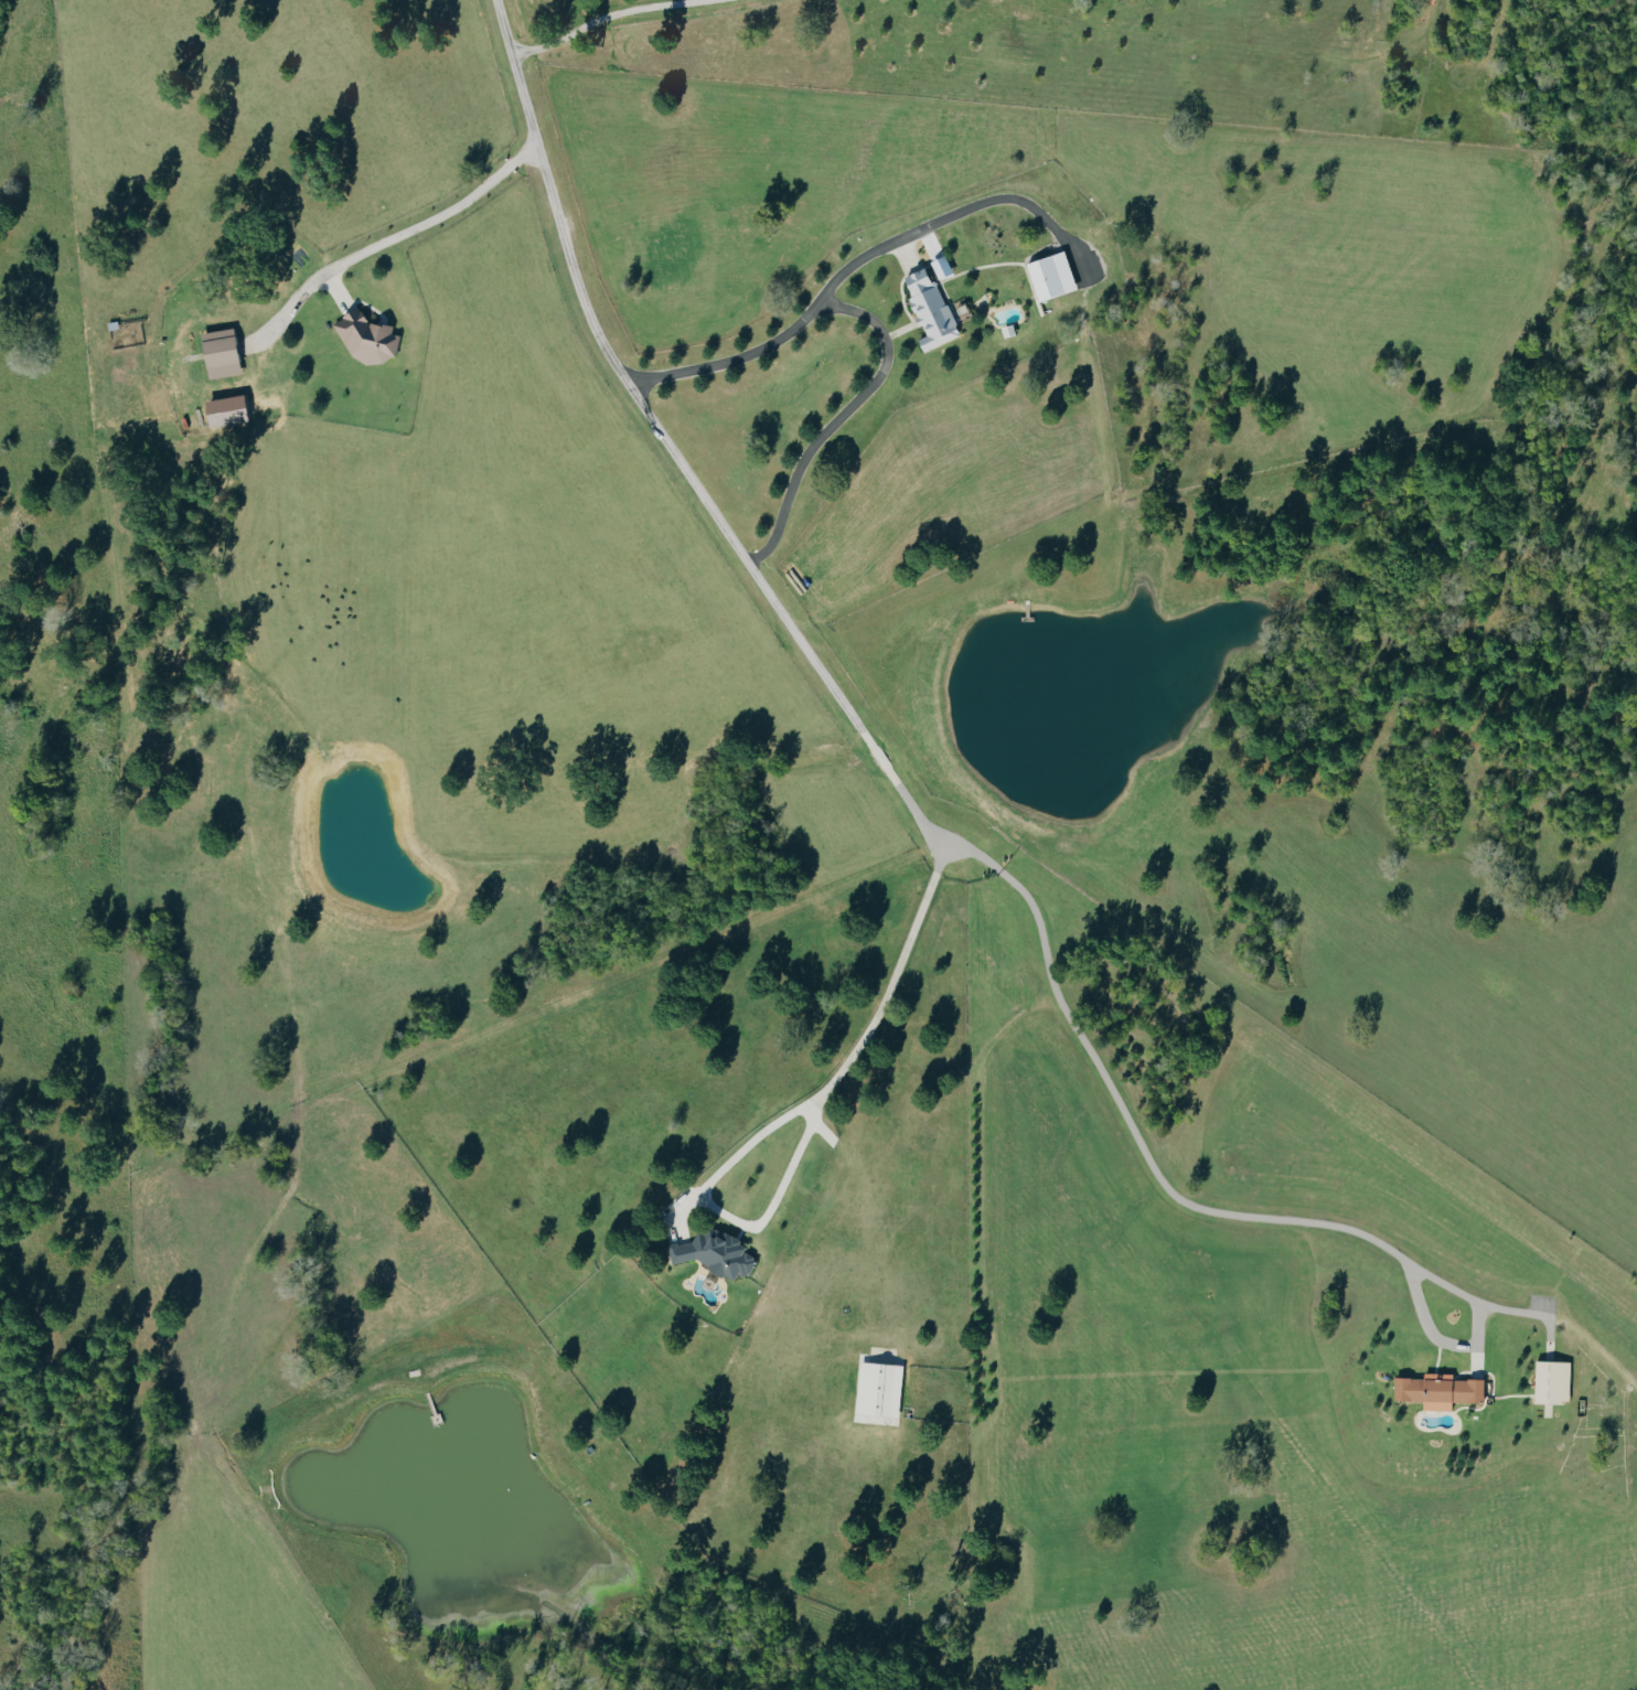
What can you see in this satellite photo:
road: (633, 17)
road: (955, 211)
road: (409, 238)
building: (1052, 275)
building: (931, 309)
road: (881, 329)
building: (368, 336)
building: (222, 352)
building: (228, 410)
road: (908, 795)
road: (799, 1117)
building: (716, 1252)
building: (1554, 1381)
building: (1442, 1391)
building: (879, 1393)

